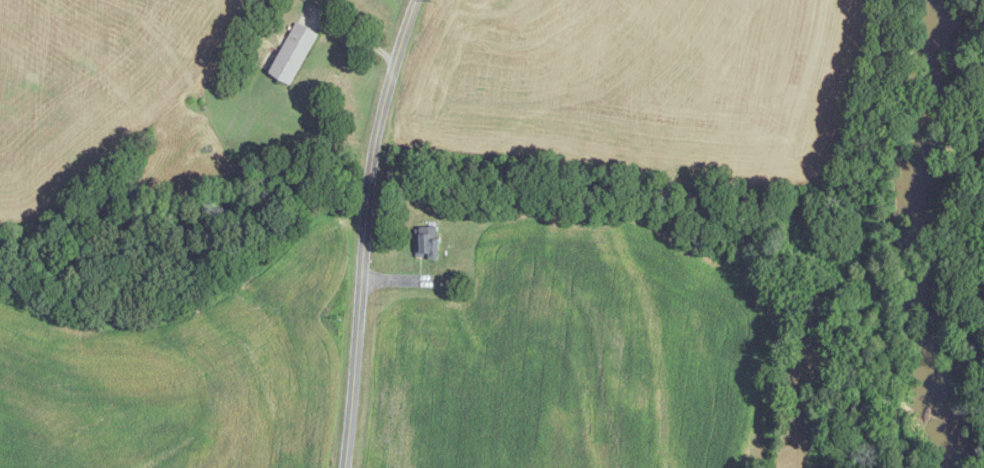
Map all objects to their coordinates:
building: (294, 53)
road: (362, 231)
river: (910, 234)
building: (427, 240)

